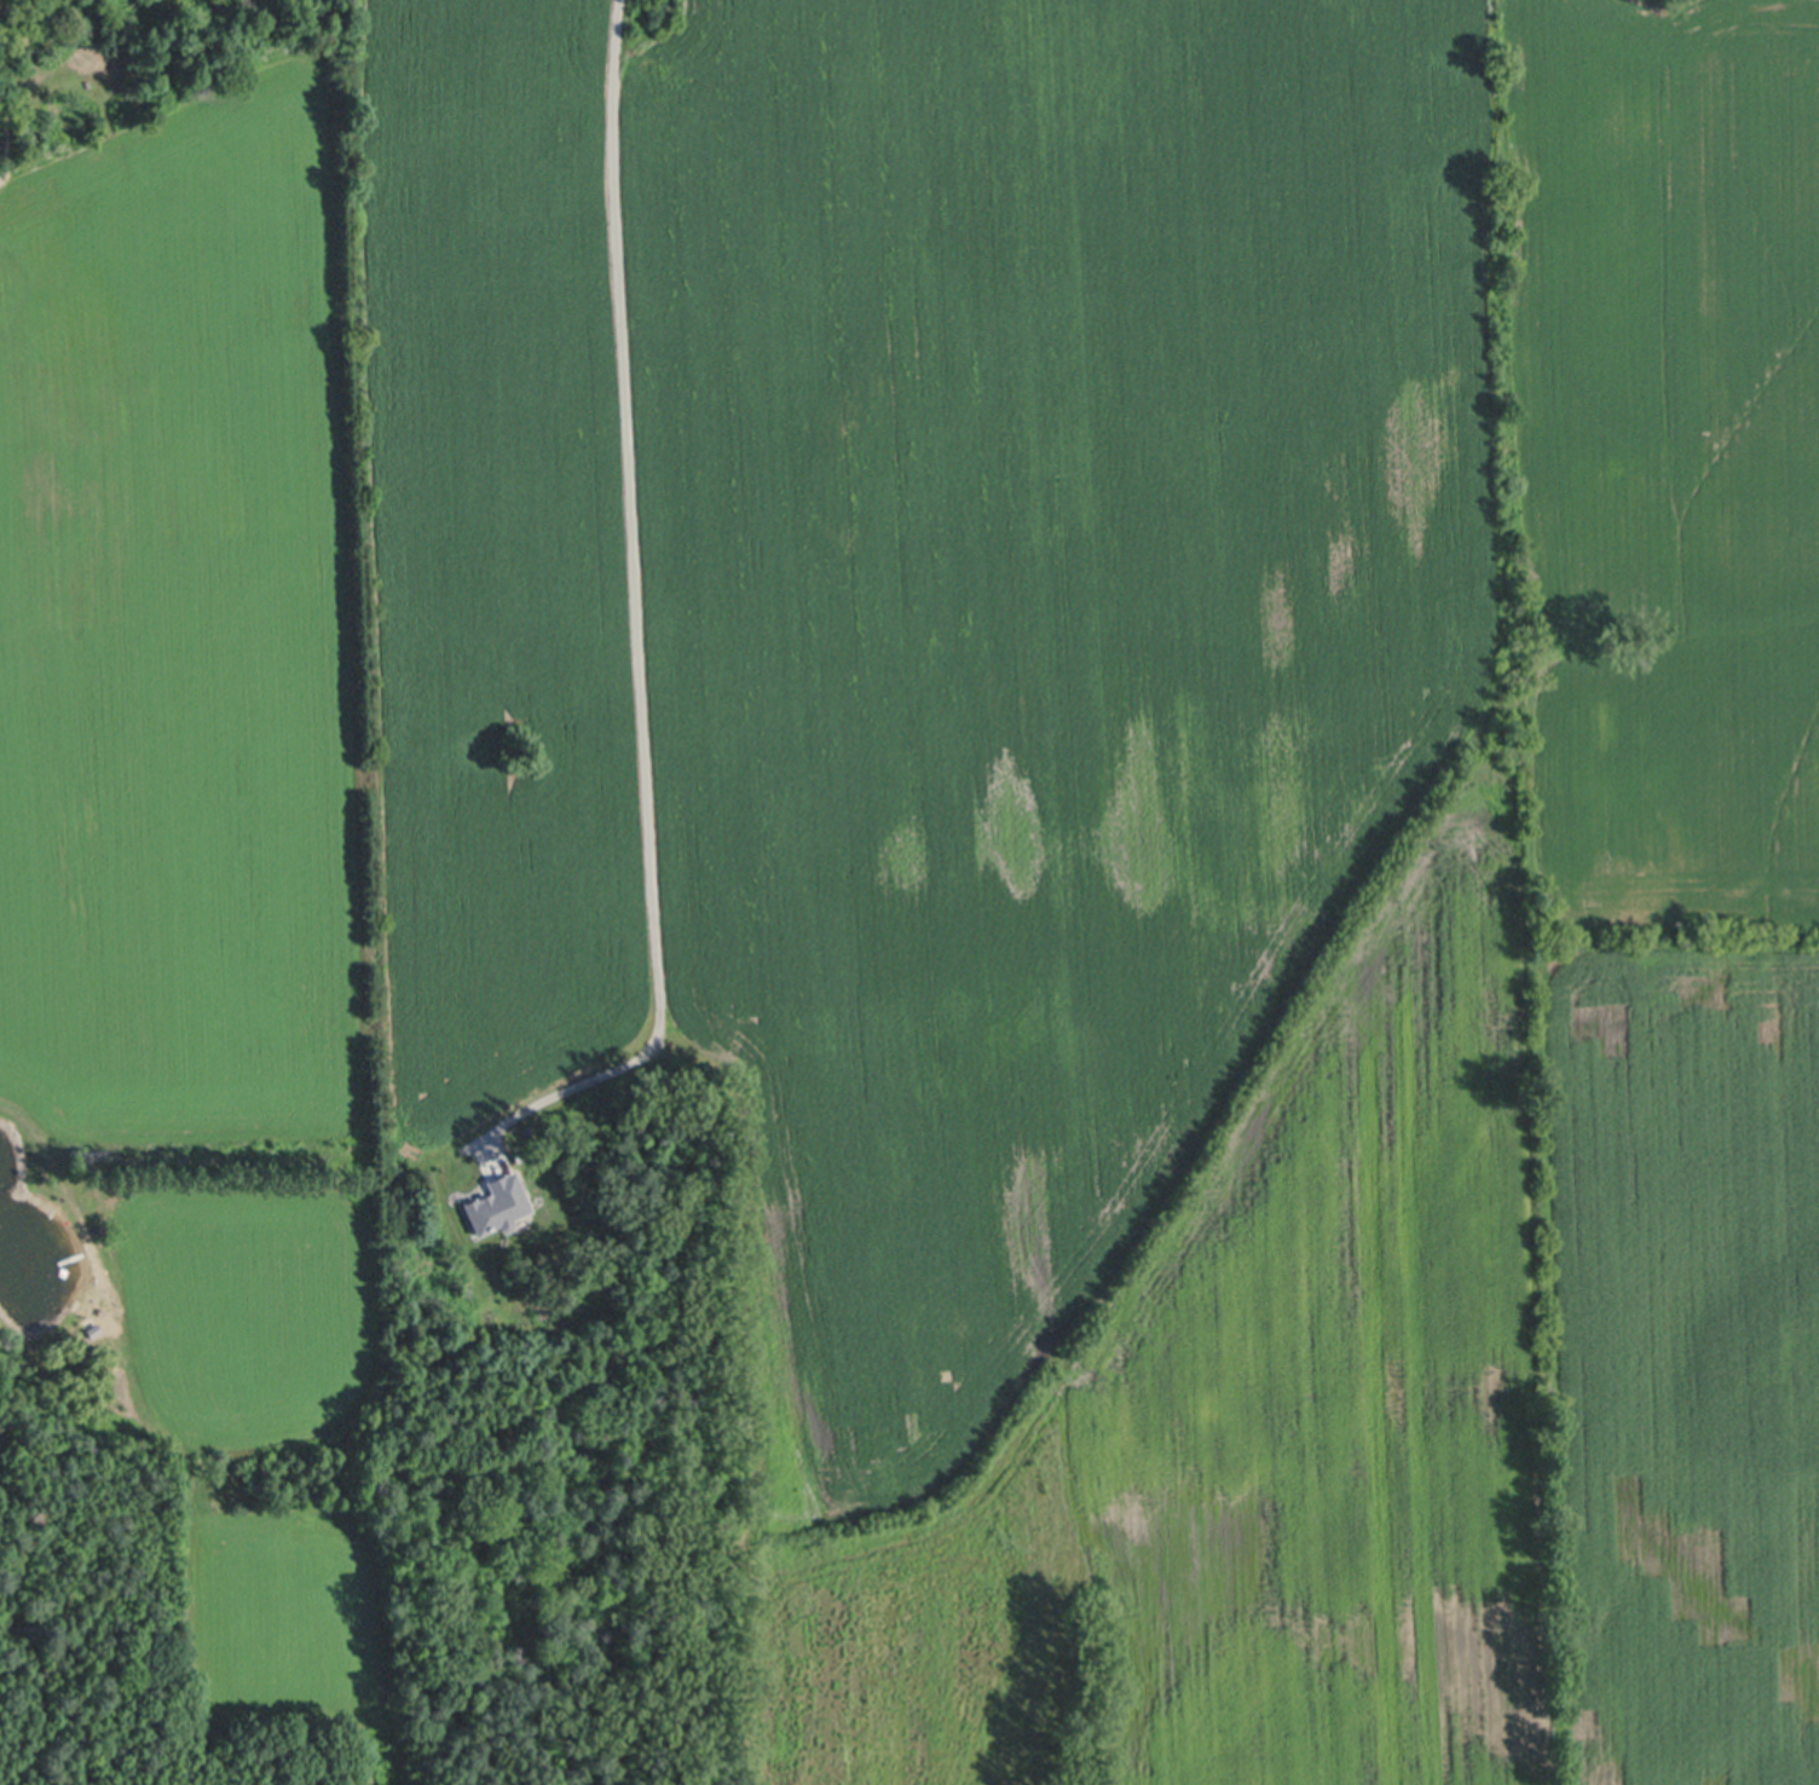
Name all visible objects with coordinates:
road: (640, 625)
crop: (1010, 810)
building: (497, 1207)

